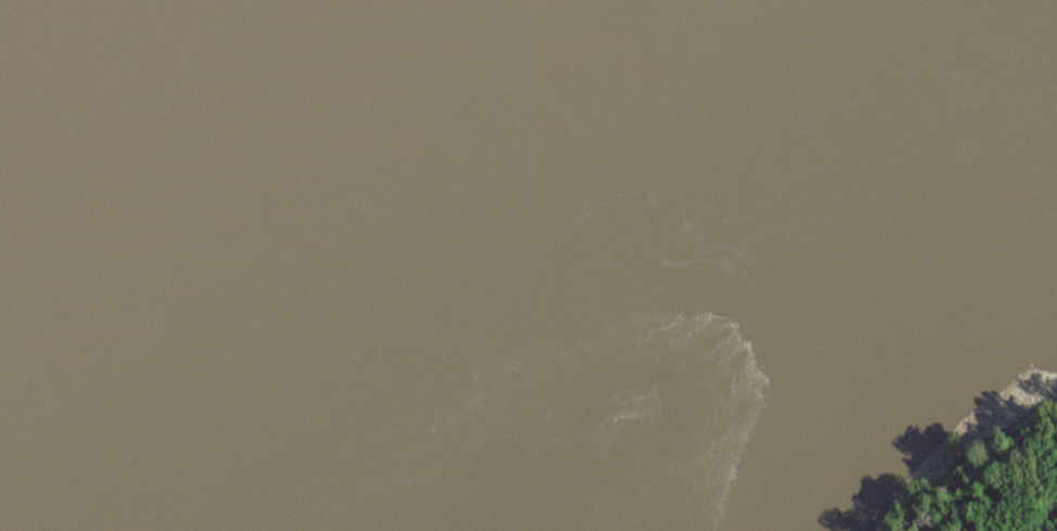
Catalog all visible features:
river: (428, 264)

